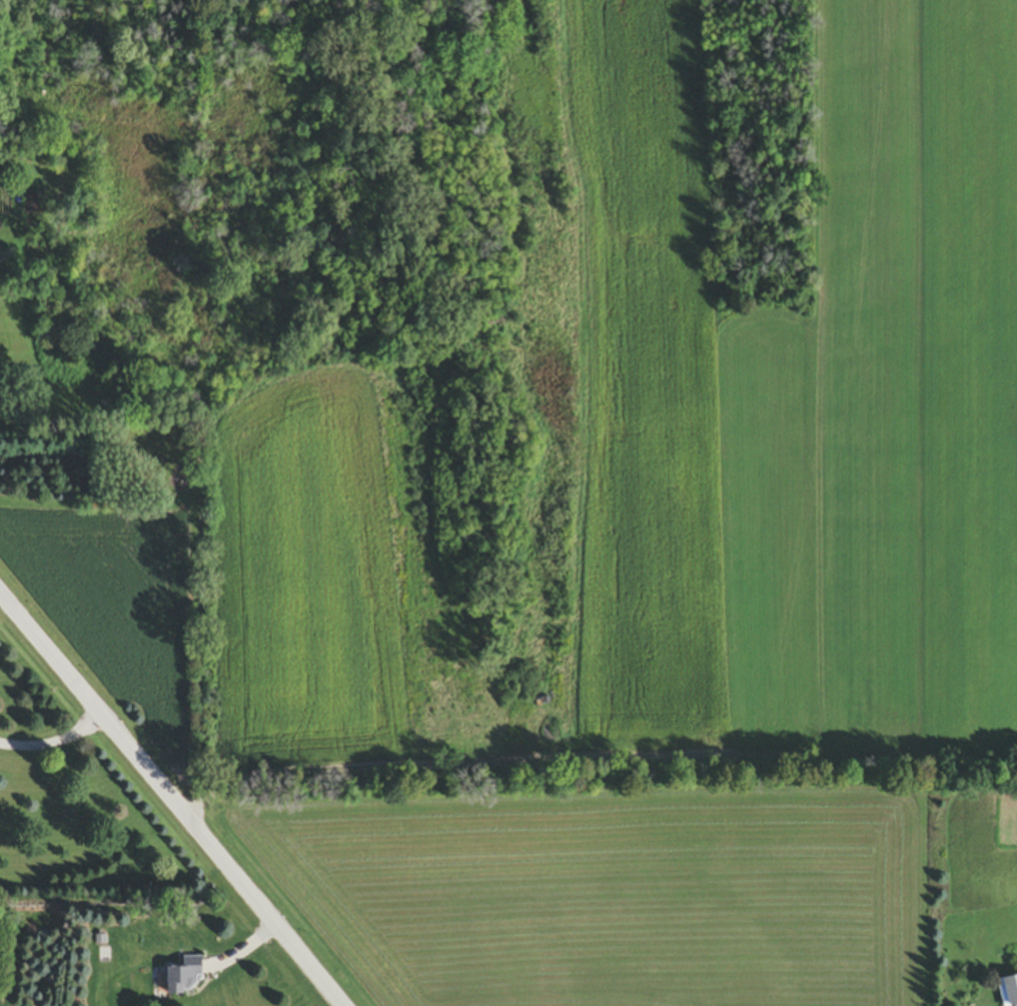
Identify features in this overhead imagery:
road: (52, 741)
road: (170, 799)
building: (184, 980)
building: (1010, 991)

